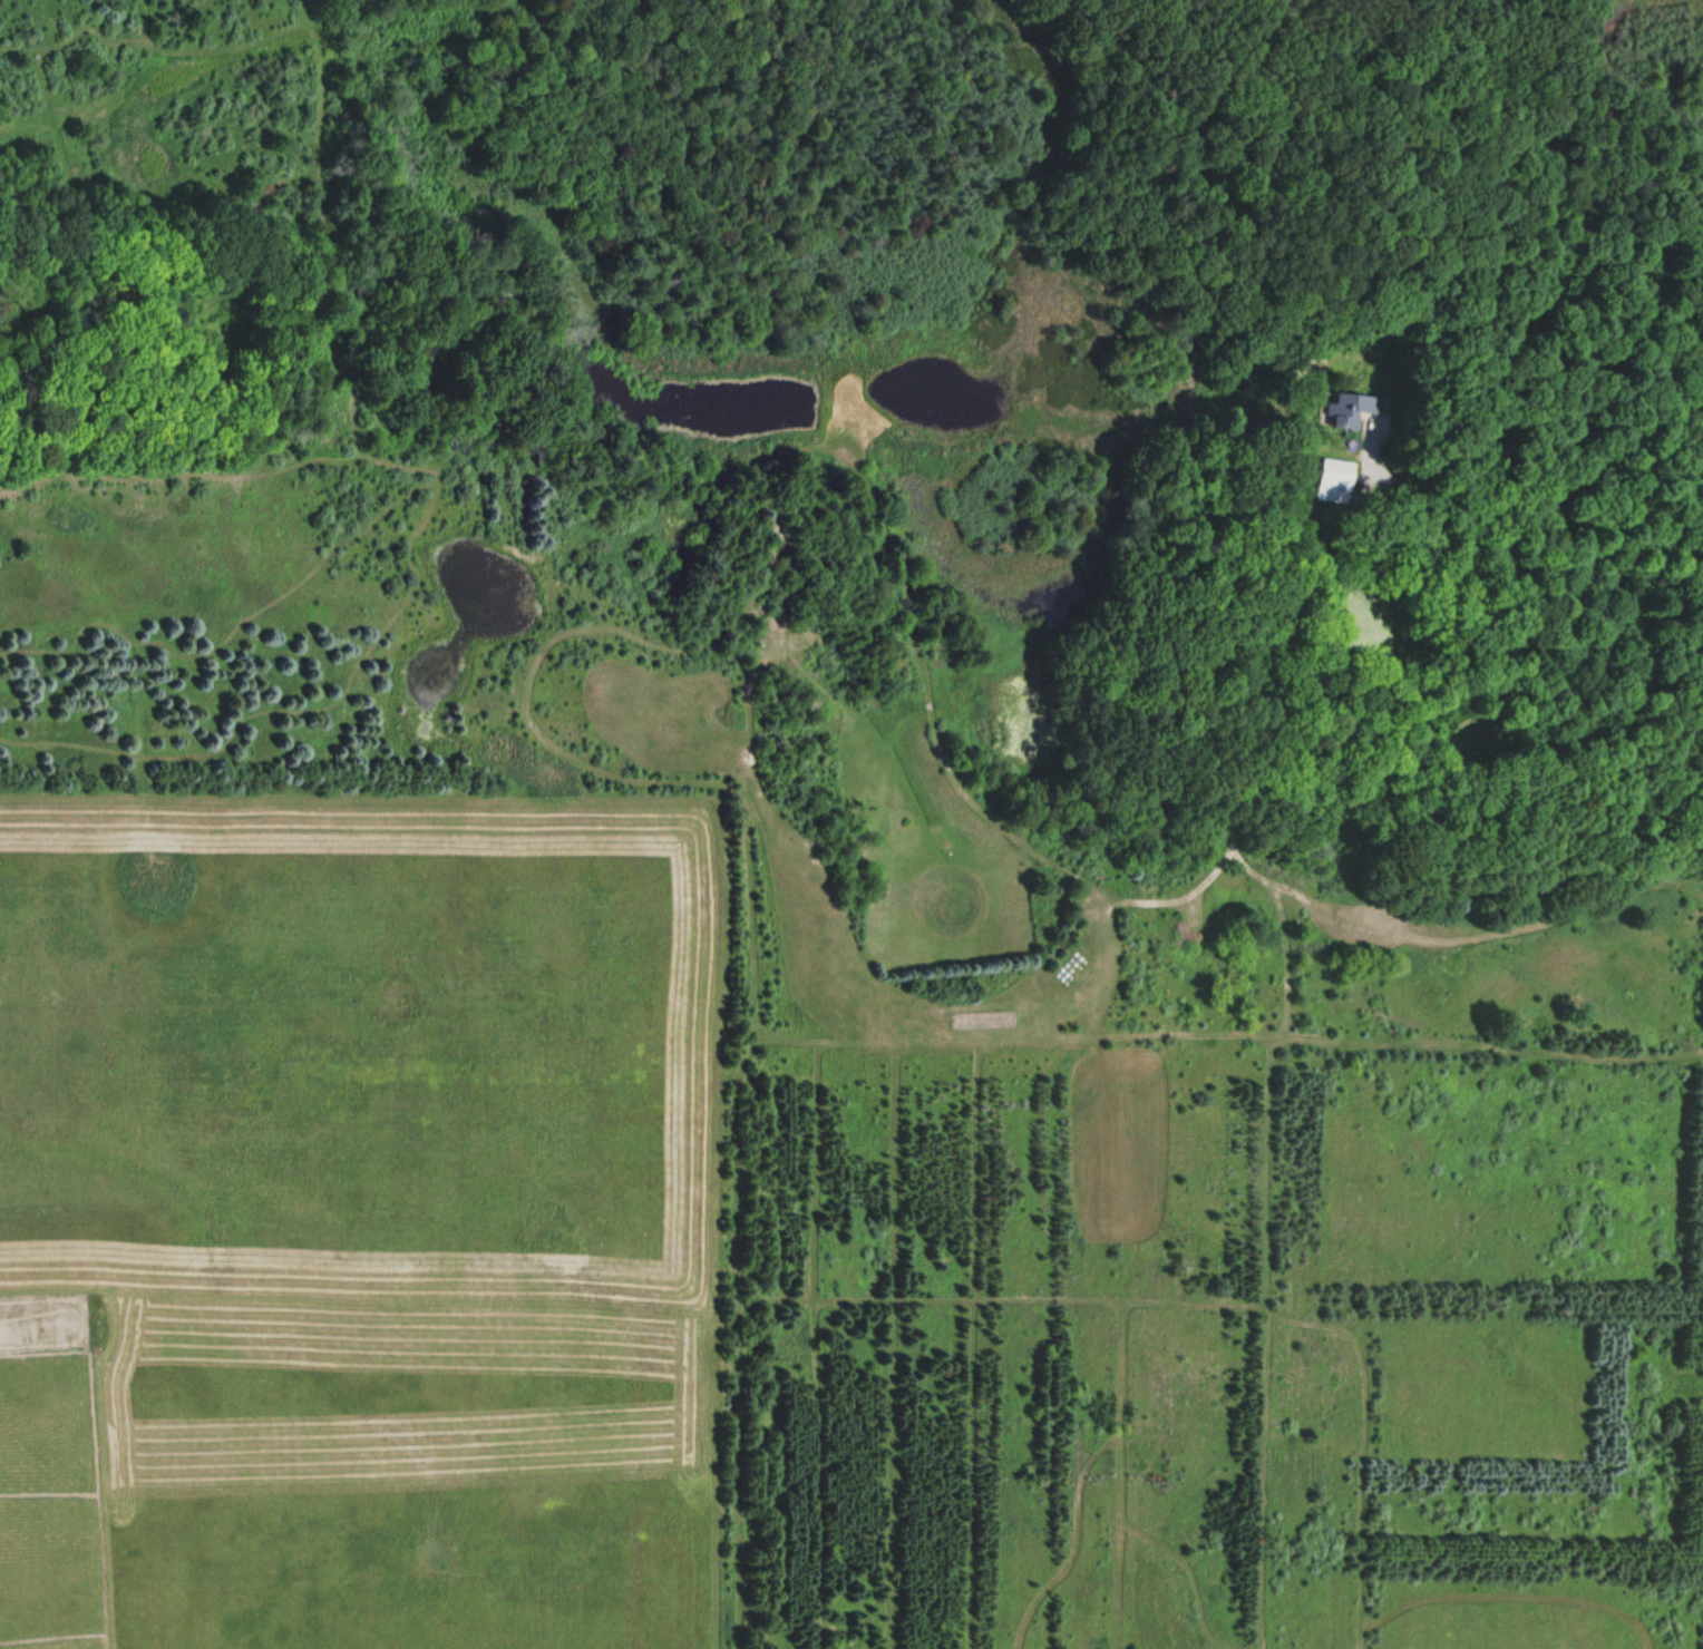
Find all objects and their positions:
building: (1346, 408)
building: (1331, 479)

